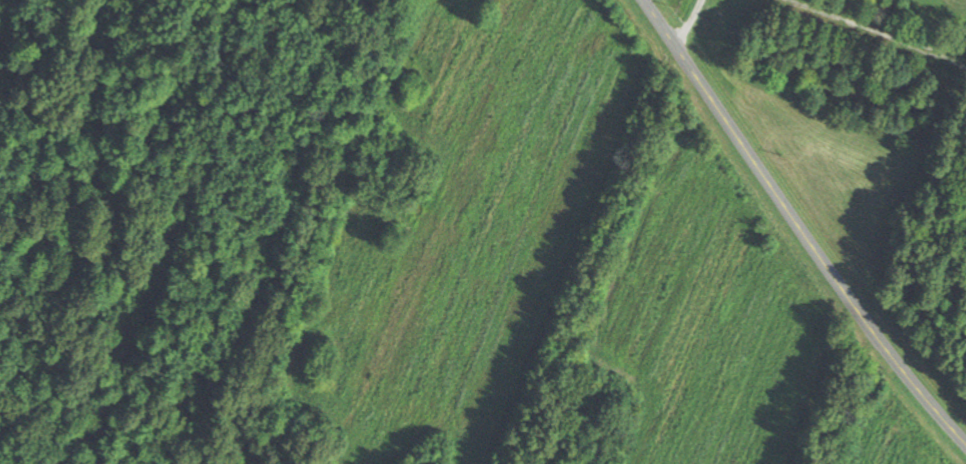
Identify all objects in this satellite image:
road: (665, 20)
road: (688, 20)
road: (878, 31)
road: (51, 130)
road: (310, 232)
road: (814, 245)
road: (607, 252)
road: (908, 293)
road: (869, 406)

